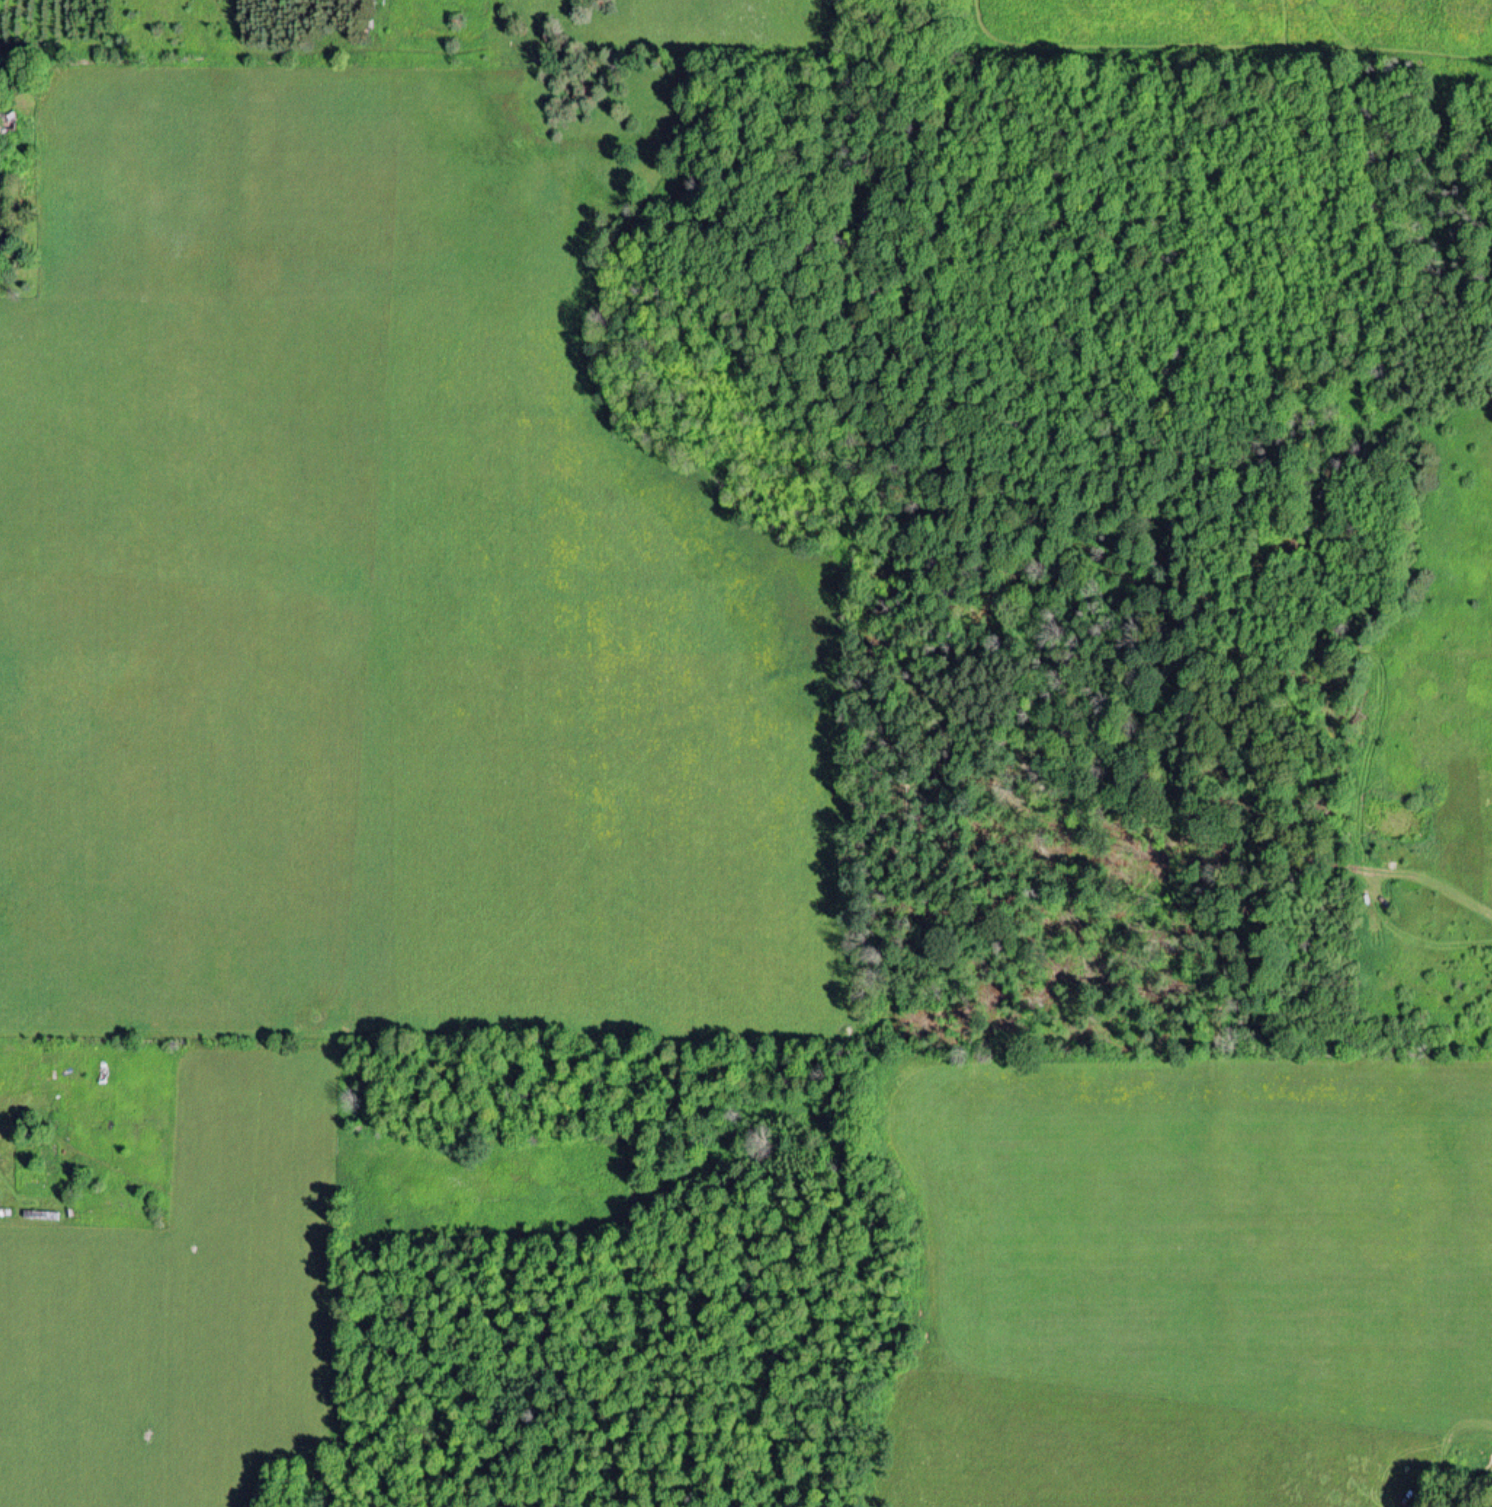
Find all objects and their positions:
building: (13, 125)

